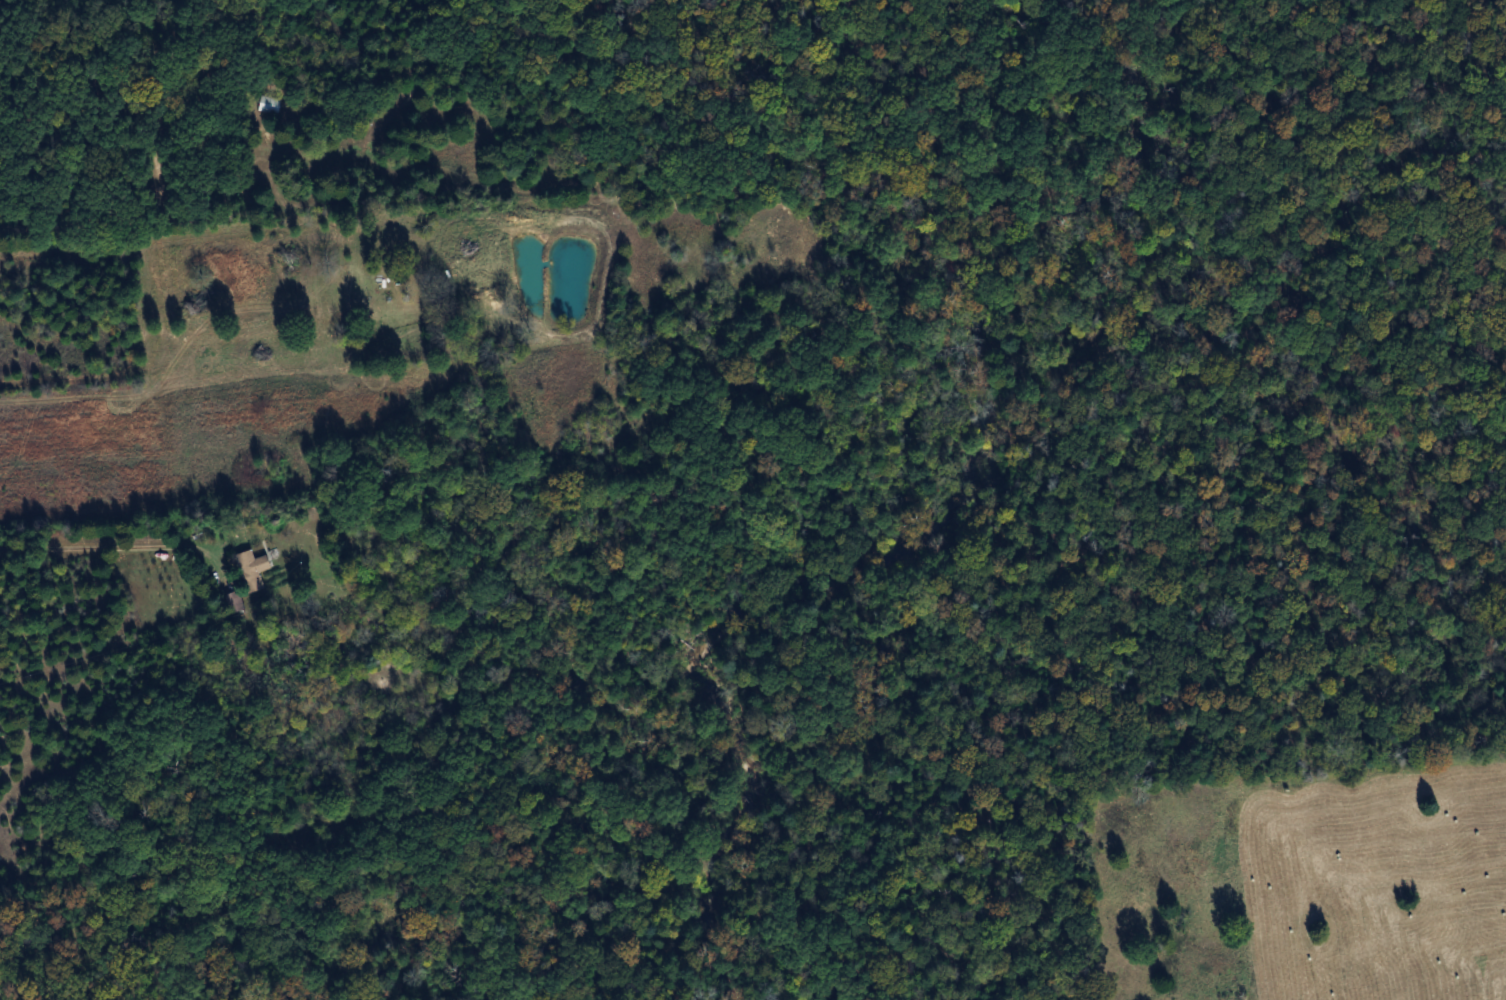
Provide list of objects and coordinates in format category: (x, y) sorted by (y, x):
road: (185, 467)
building: (250, 572)

